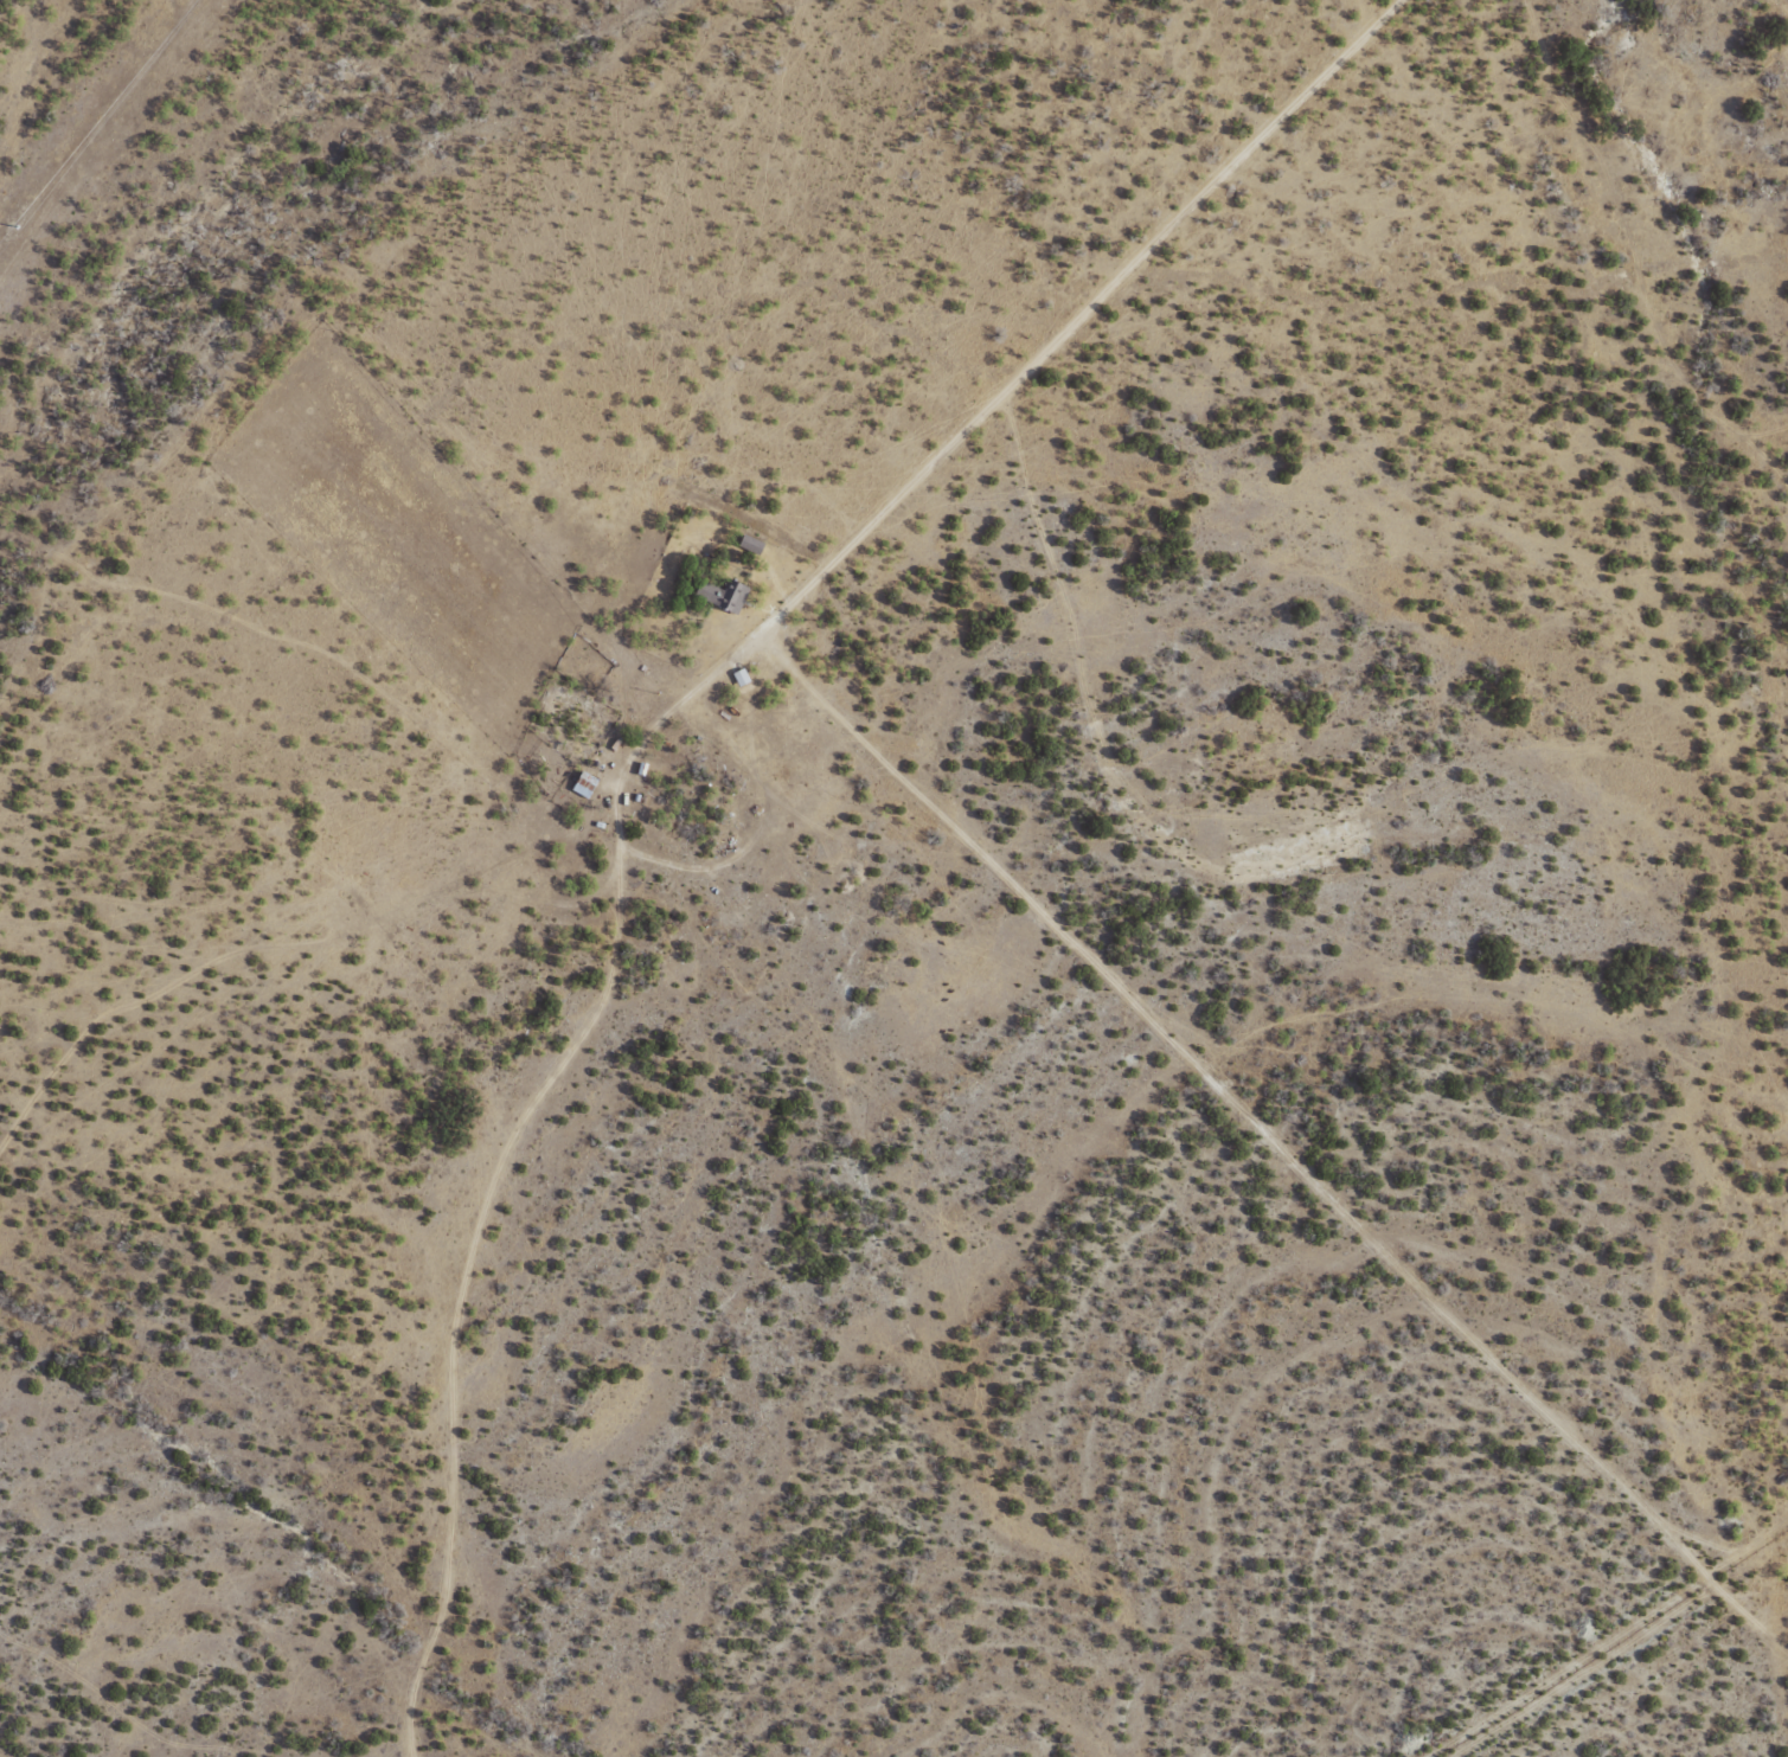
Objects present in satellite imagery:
road: (82, 100)
river: (196, 184)
power tower: (12, 231)
building: (725, 595)
building: (738, 675)
road: (707, 757)

